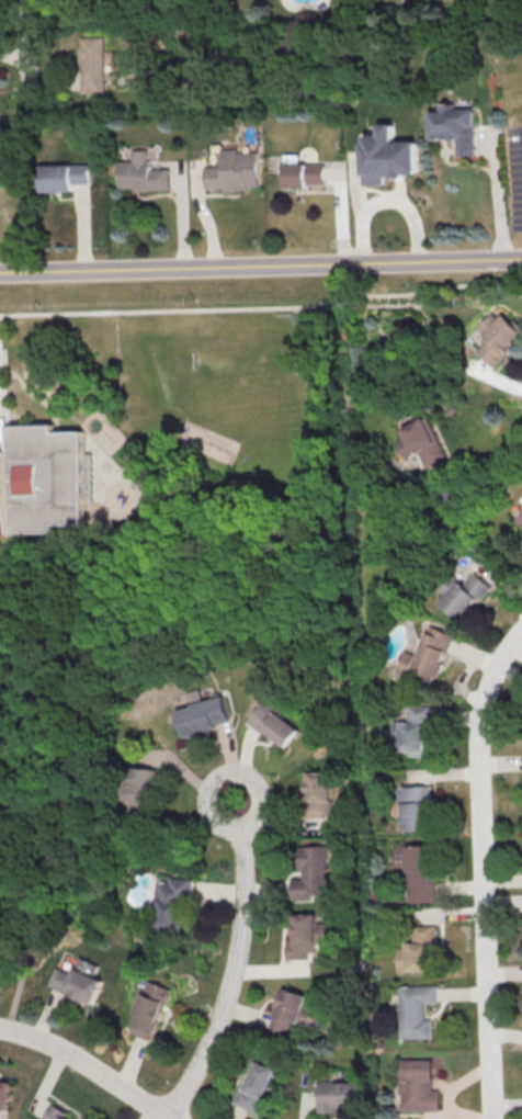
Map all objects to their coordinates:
road: (29, 45)
building: (92, 65)
building: (455, 126)
building: (388, 156)
building: (236, 171)
building: (304, 172)
building: (143, 173)
building: (65, 177)
road: (389, 199)
road: (499, 200)
road: (260, 263)
road: (262, 307)
building: (496, 337)
road: (5, 348)
park: (228, 371)
road: (7, 384)
parking lot: (0, 385)
road: (5, 409)
building: (421, 441)
building: (44, 483)
building: (521, 498)
building: (519, 518)
building: (463, 595)
building: (425, 656)
building: (200, 713)
building: (272, 724)
building: (411, 732)
road: (248, 778)
building: (138, 788)
building: (318, 793)
building: (413, 806)
road: (481, 868)
building: (416, 870)
building: (313, 872)
building: (171, 903)
building: (306, 936)
building: (418, 950)
road: (229, 976)
building: (78, 980)
building: (150, 1008)
building: (416, 1010)
building: (293, 1013)
road: (91, 1063)
building: (419, 1085)
building: (256, 1086)
building: (4, 1093)
building: (338, 1095)
building: (56, 1112)

